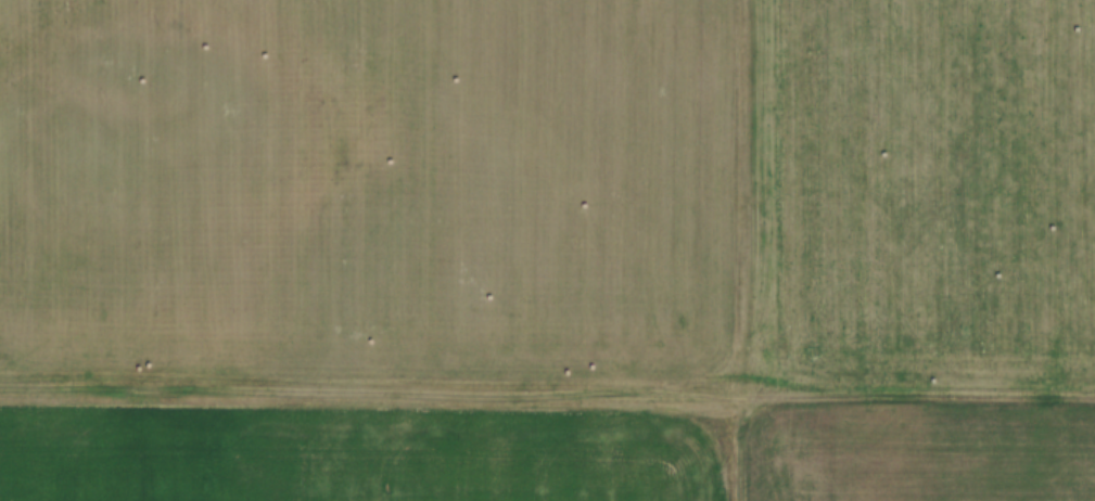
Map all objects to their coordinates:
road: (749, 249)
road: (547, 382)

